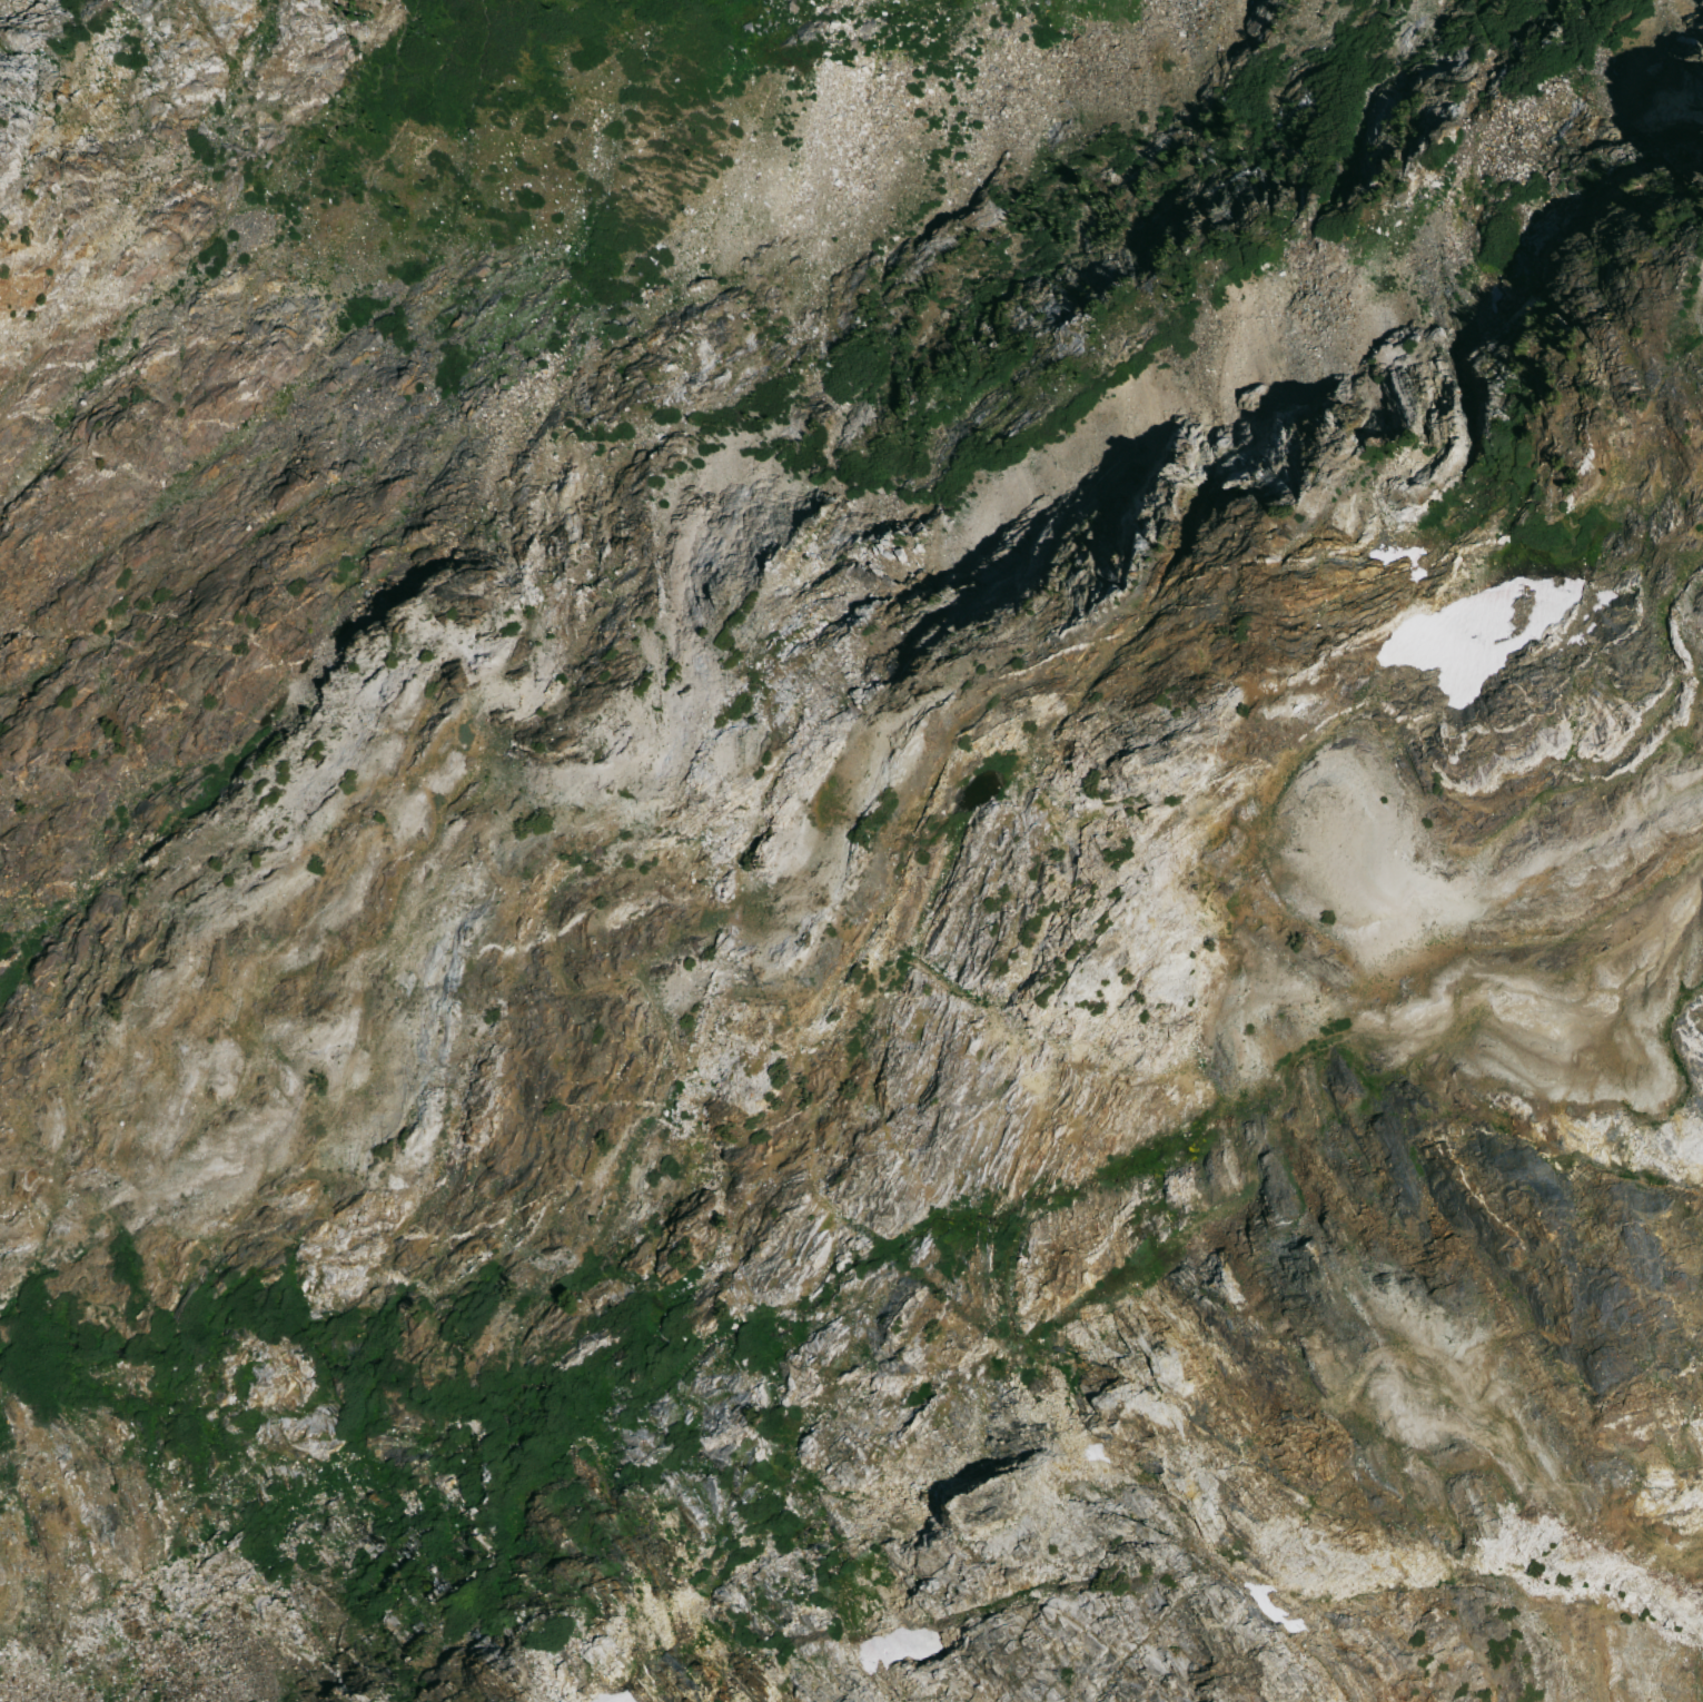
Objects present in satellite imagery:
road: (154, 519)

